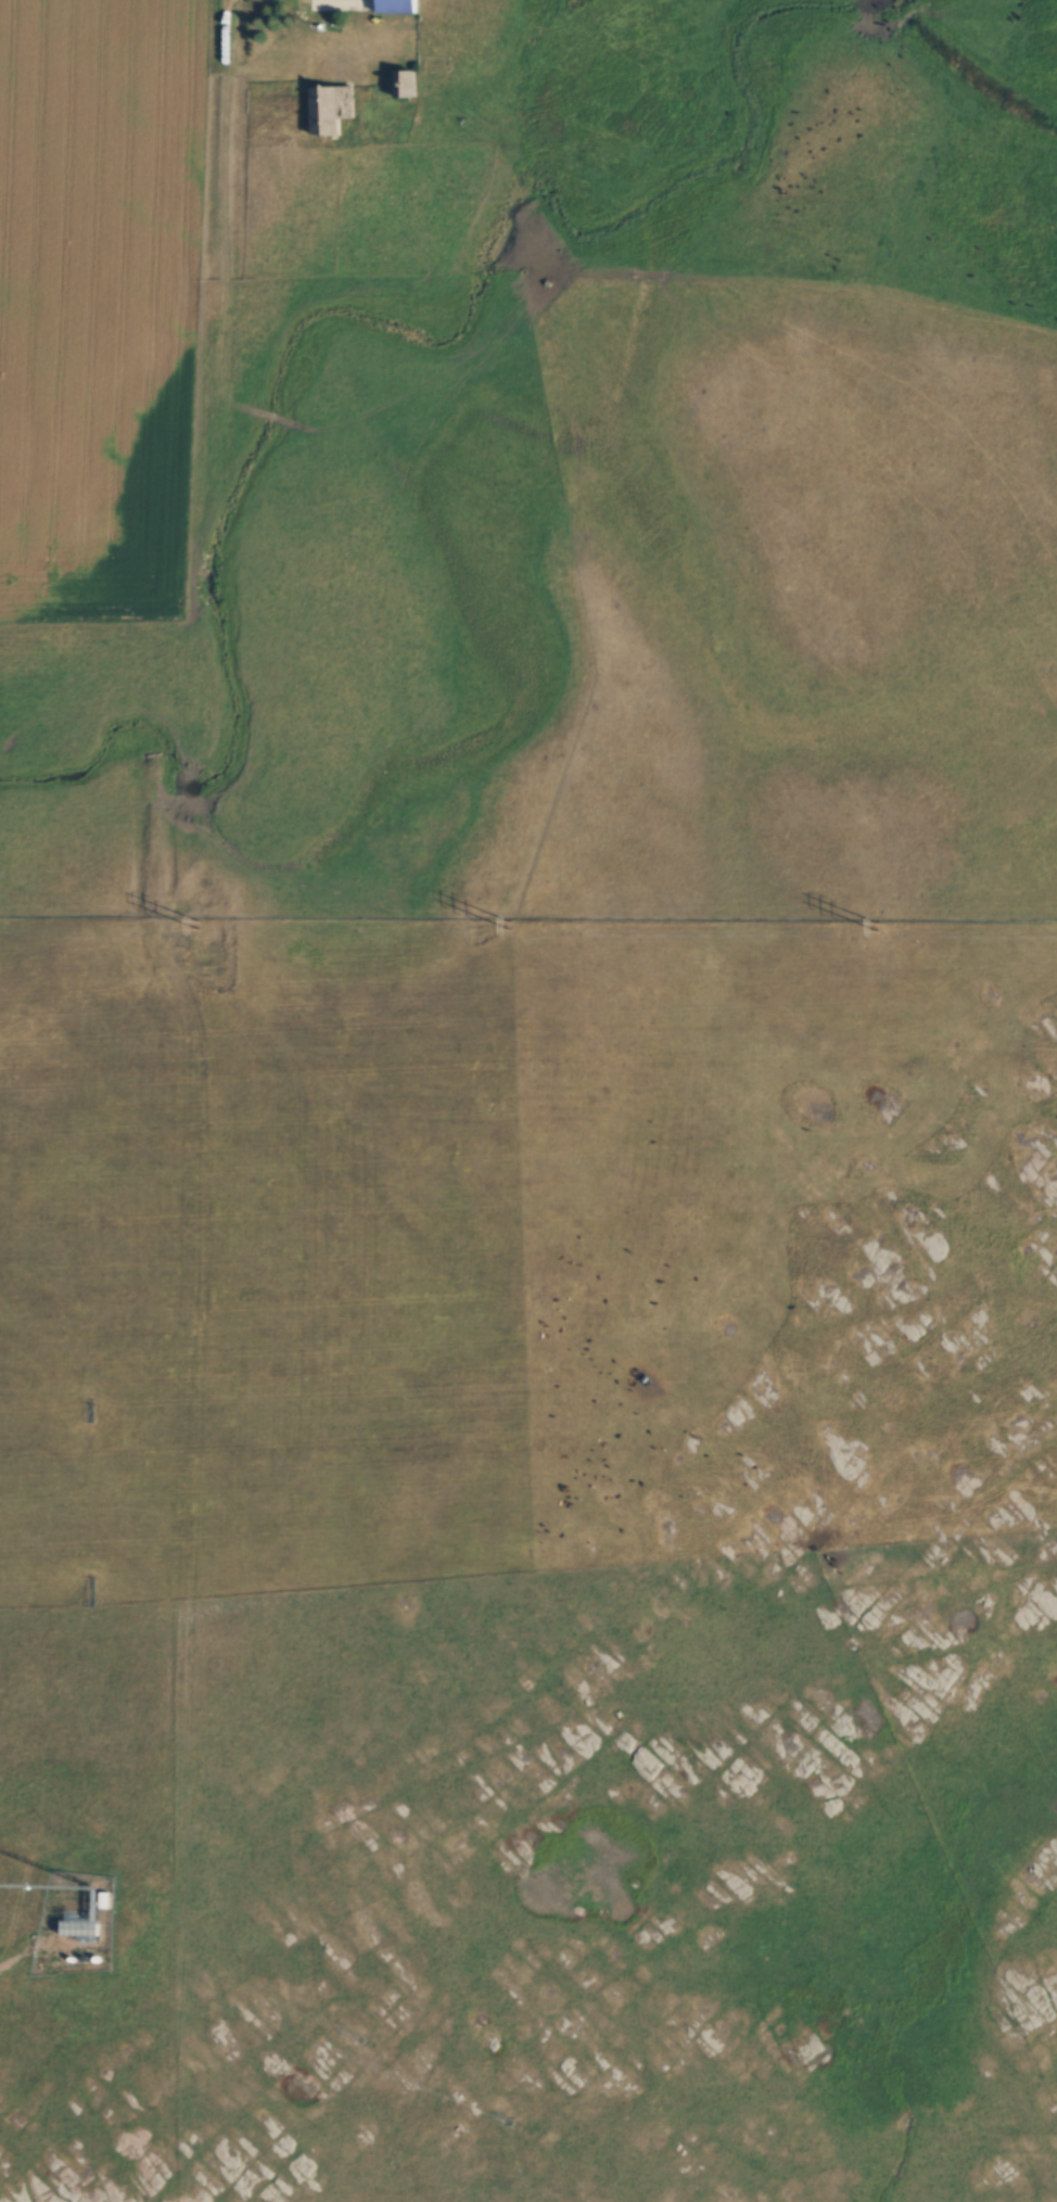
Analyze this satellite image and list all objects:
power tower: (198, 924)
power tower: (509, 927)
power tower: (878, 929)

